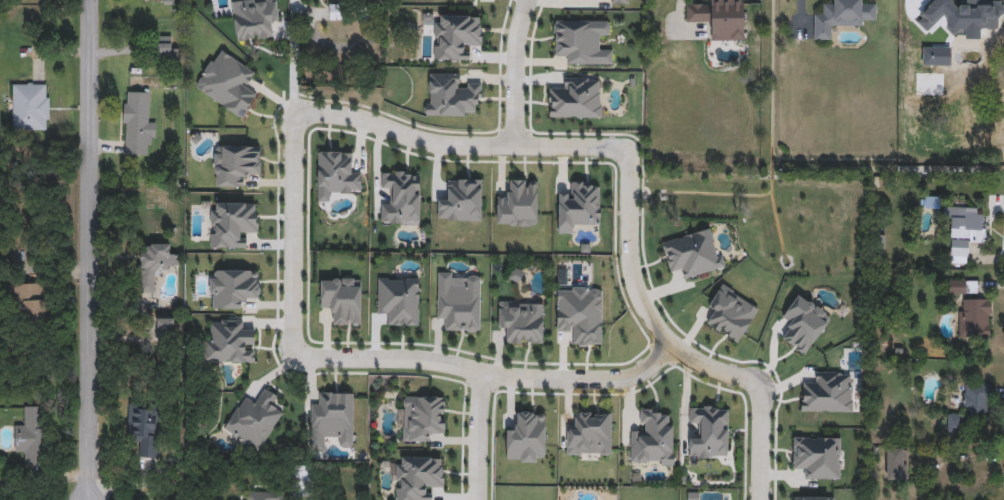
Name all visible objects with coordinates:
road: (677, 15)
road: (801, 15)
building: (841, 16)
building: (720, 18)
building: (456, 35)
building: (163, 48)
road: (342, 49)
road: (293, 57)
road: (514, 71)
building: (31, 105)
building: (135, 122)
road: (458, 146)
building: (235, 163)
building: (401, 196)
building: (461, 200)
building: (517, 203)
building: (578, 207)
building: (964, 224)
road: (296, 236)
road: (90, 250)
building: (693, 255)
building: (153, 265)
building: (232, 287)
building: (399, 299)
building: (340, 301)
building: (29, 302)
building: (458, 302)
building: (730, 313)
building: (581, 315)
building: (974, 319)
building: (521, 320)
building: (804, 324)
road: (673, 346)
road: (488, 378)
building: (826, 394)
building: (972, 407)
building: (422, 417)
building: (144, 428)
building: (708, 432)
building: (589, 434)
building: (31, 435)
road: (478, 438)
building: (652, 439)
building: (817, 458)
road: (963, 459)
building: (897, 463)
building: (418, 477)
building: (261, 495)
building: (814, 498)

